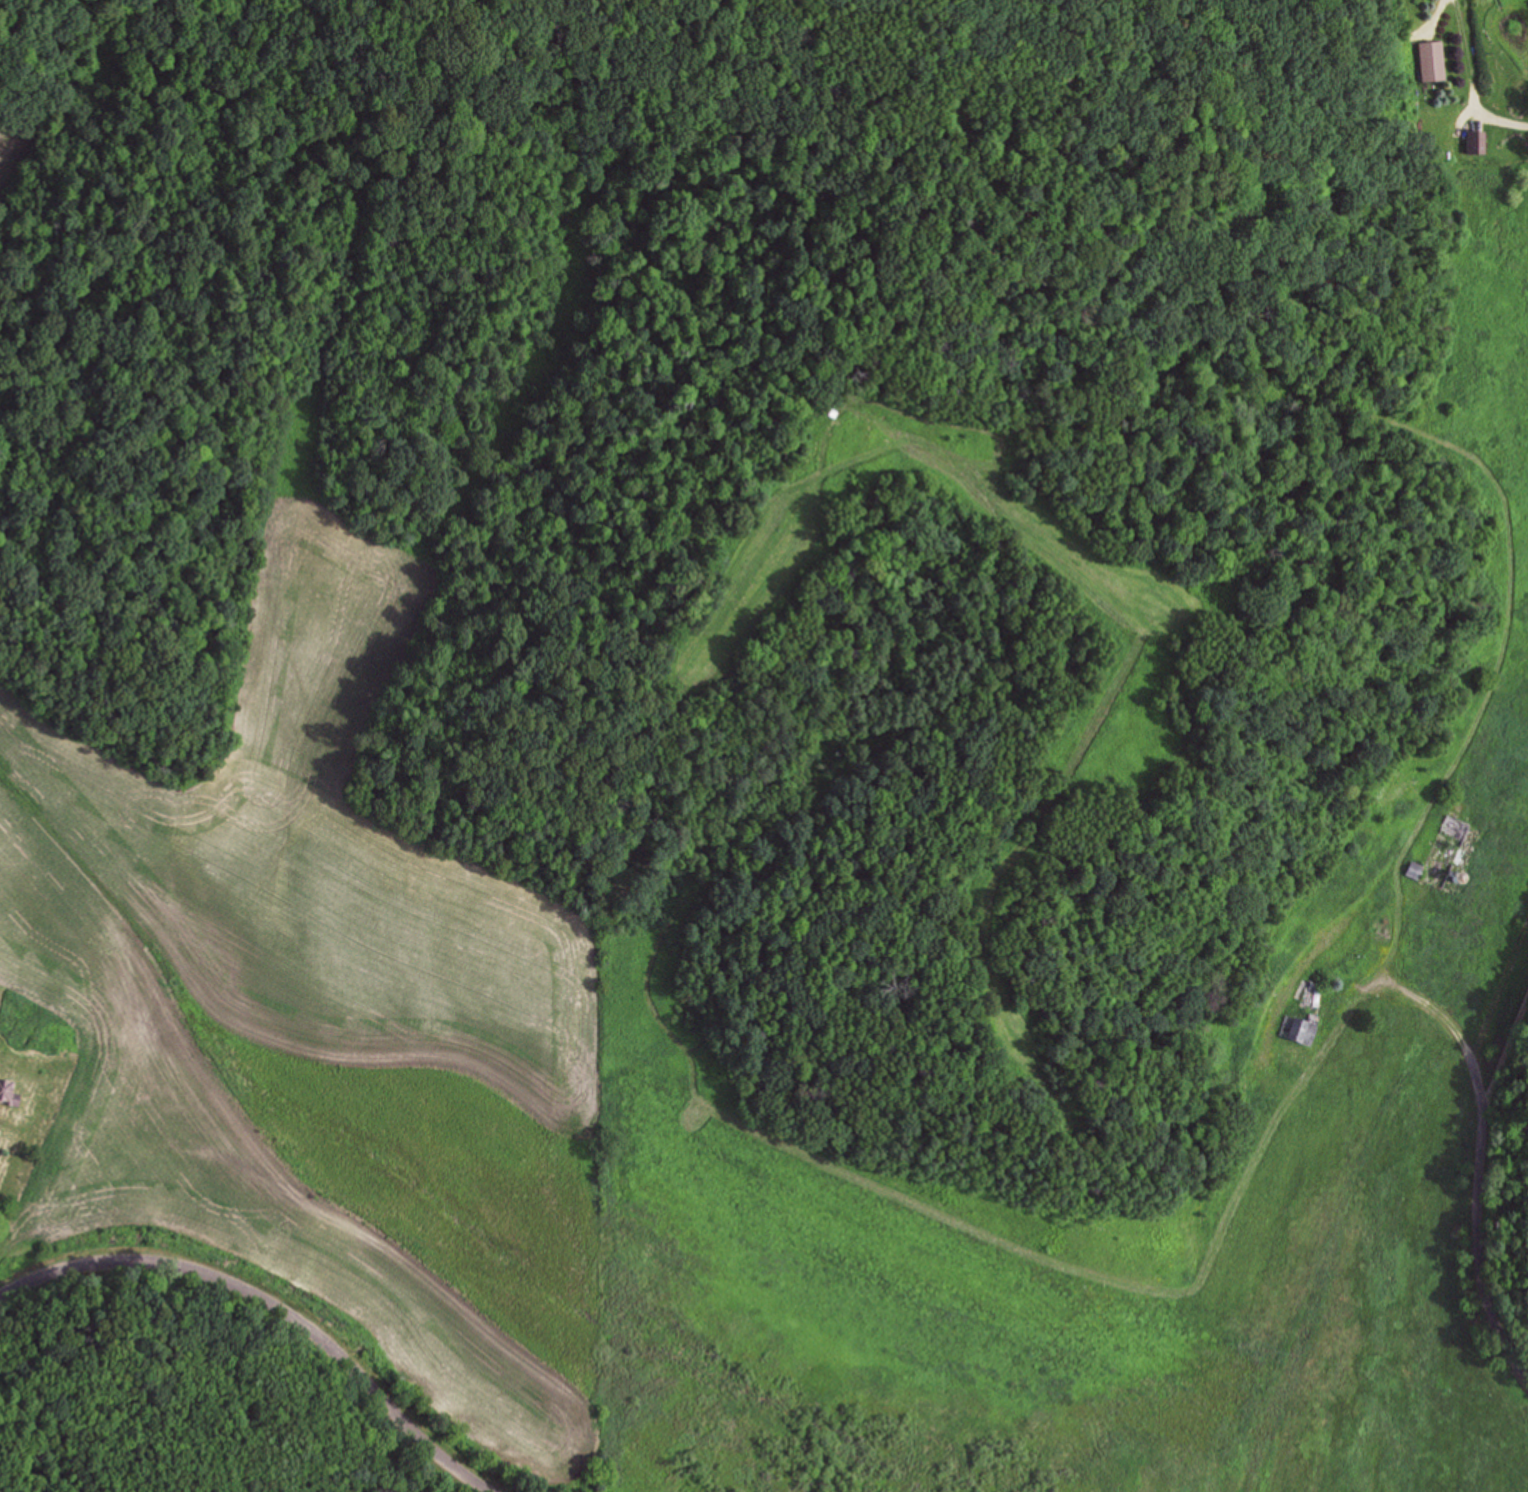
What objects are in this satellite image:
building: (1435, 61)
crop: (13, 164)
building: (1417, 871)
crop: (320, 1020)
road: (1505, 1042)
road: (1479, 1159)
crop: (820, 1213)
road: (276, 1302)

